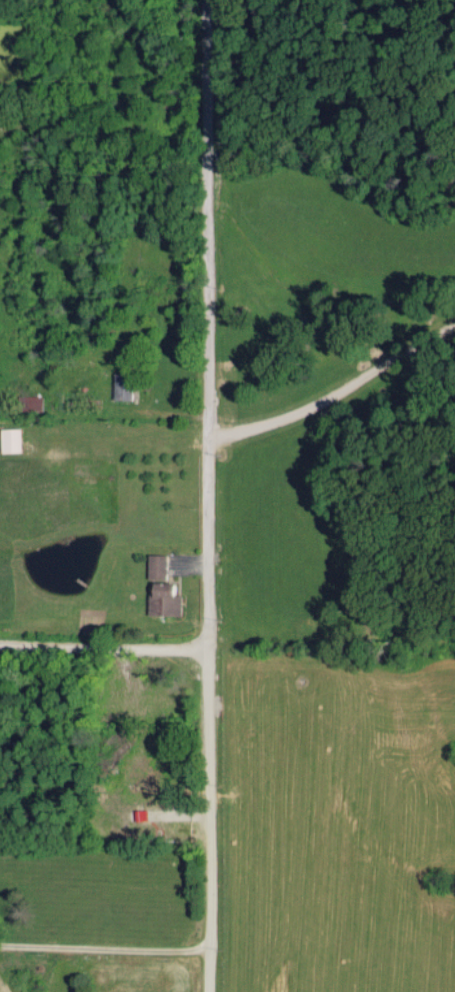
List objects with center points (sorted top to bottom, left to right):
building: (125, 386)
road: (334, 396)
building: (13, 440)
road: (205, 496)
building: (159, 566)
building: (168, 600)
road: (102, 639)

